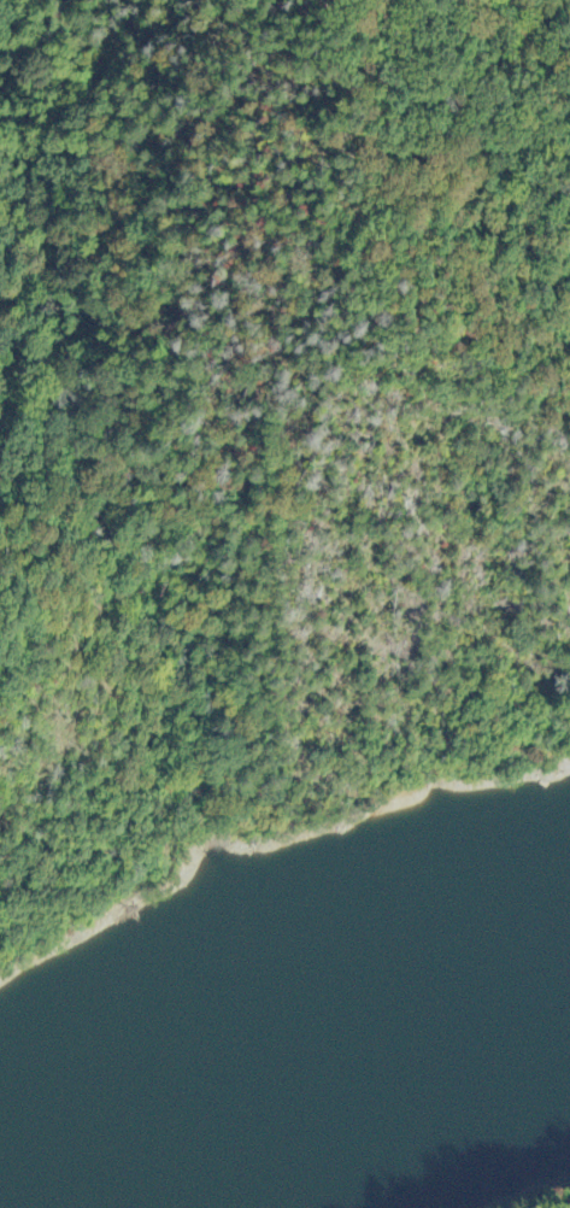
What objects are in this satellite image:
river: (288, 1032)

